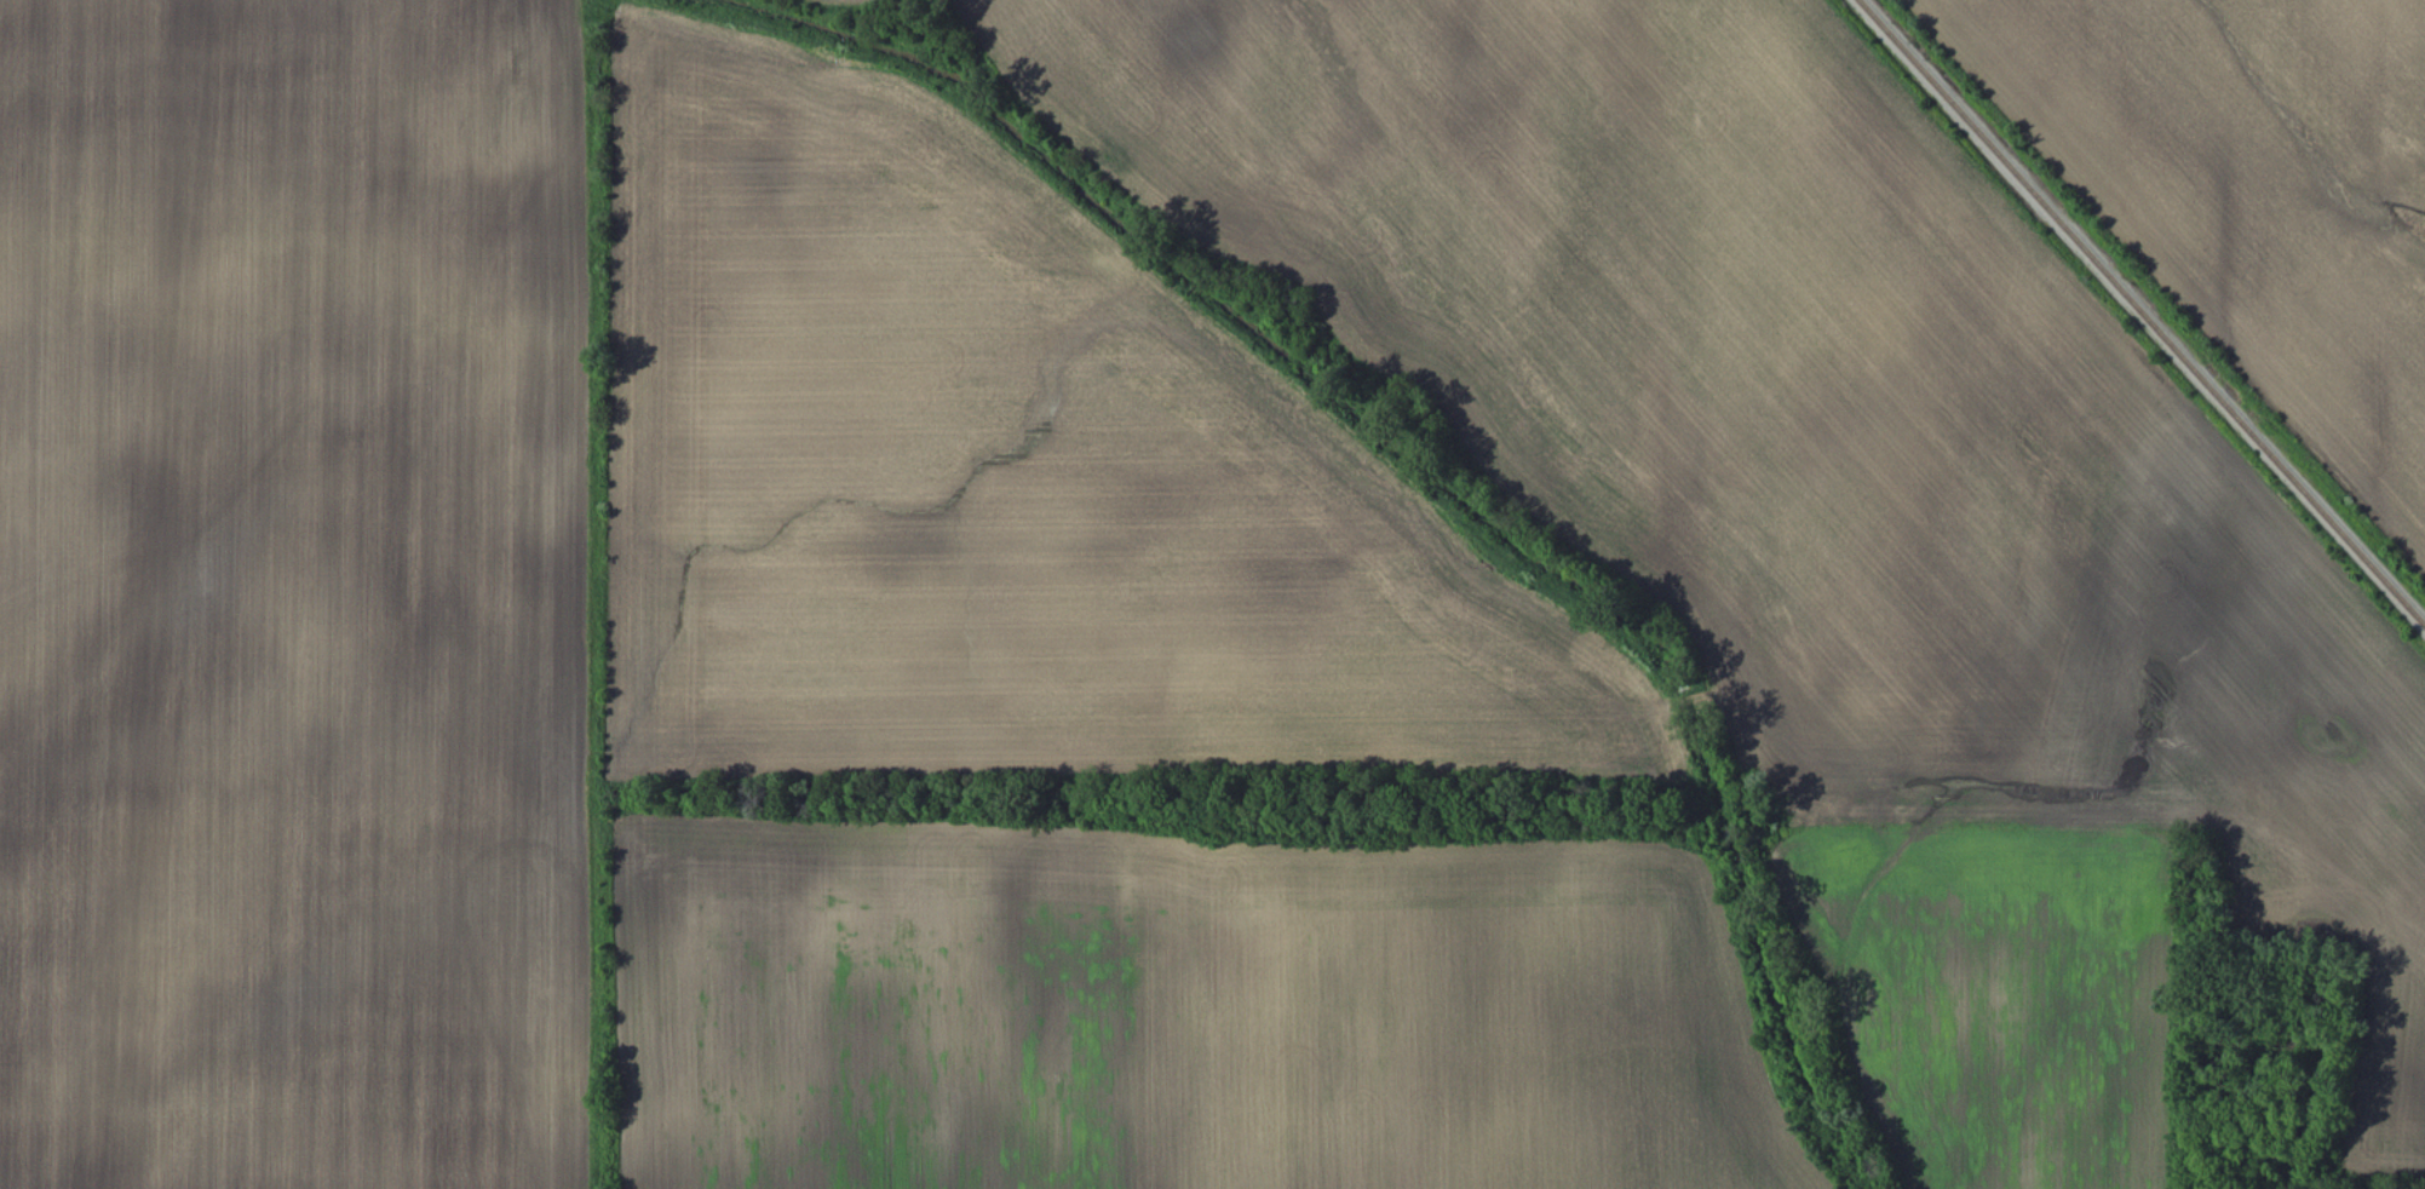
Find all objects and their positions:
railway: (2142, 312)

